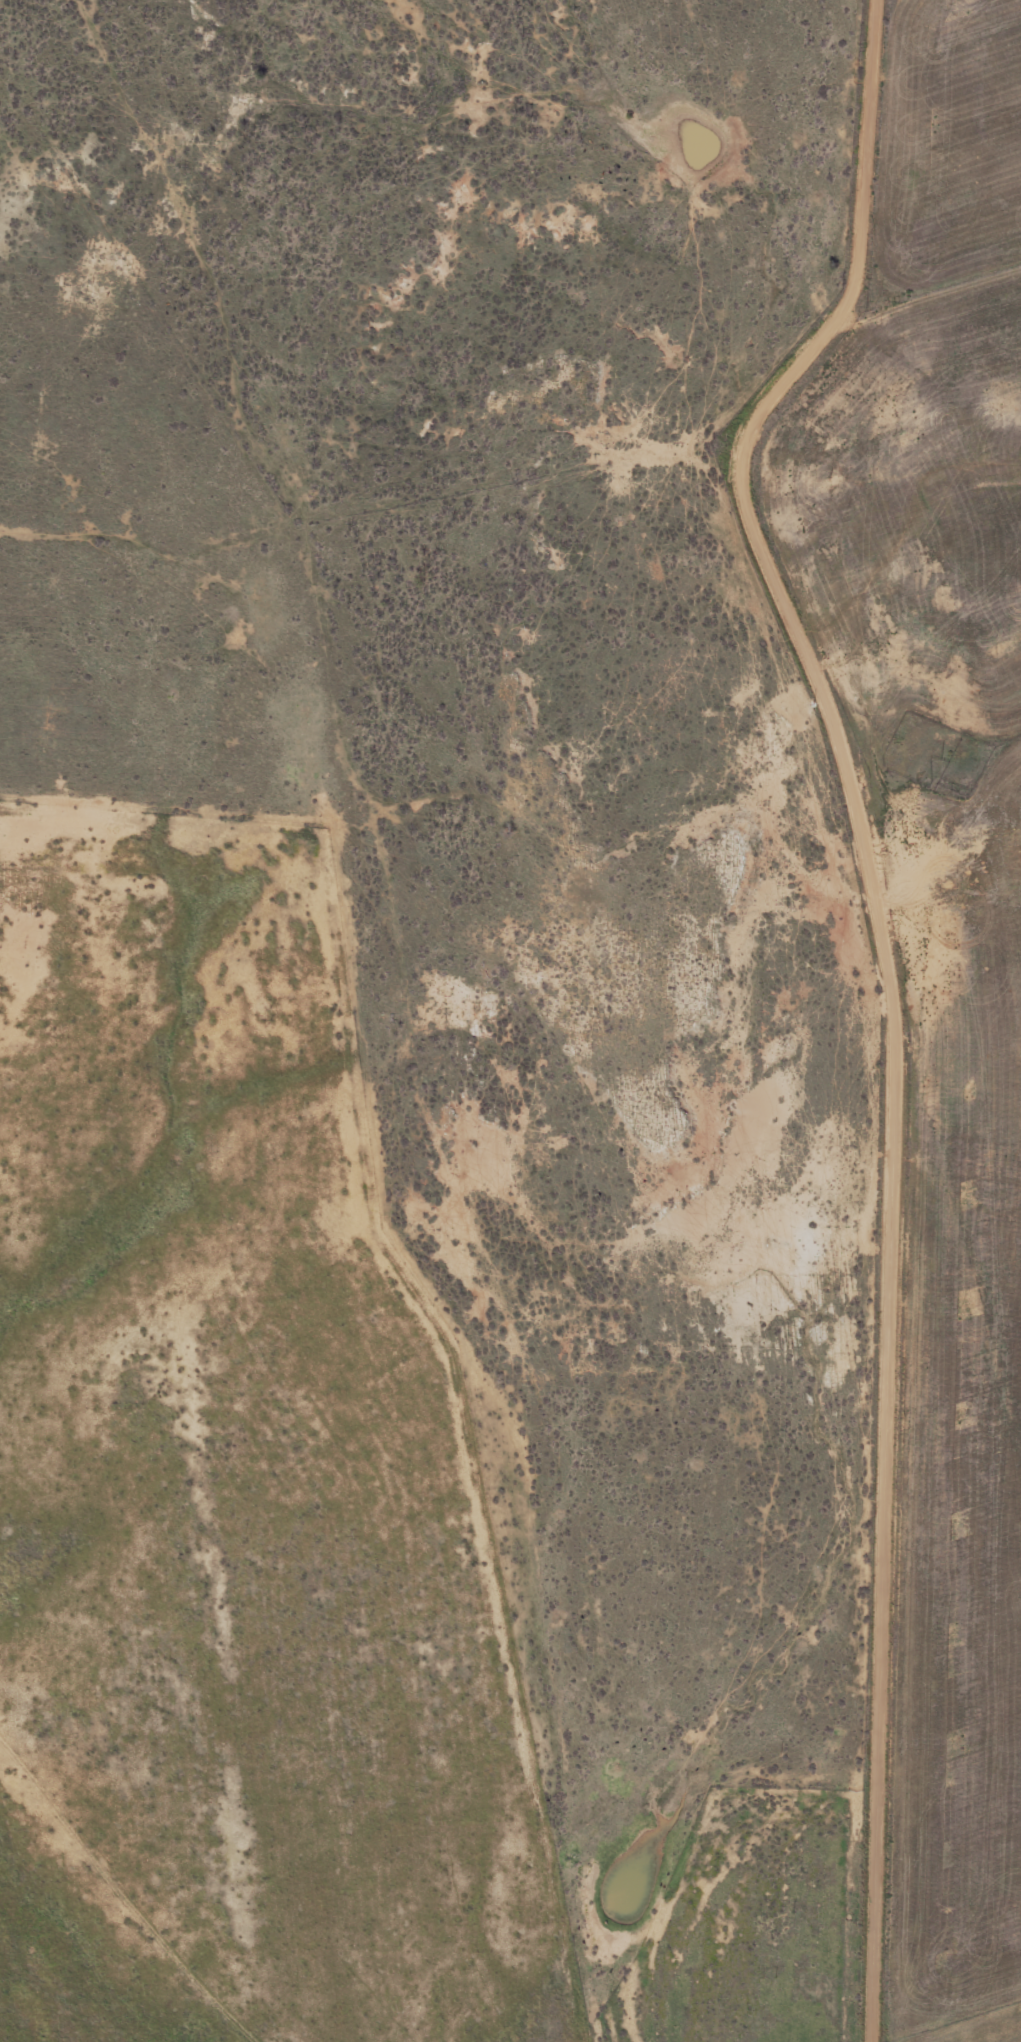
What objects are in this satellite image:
road: (893, 991)

